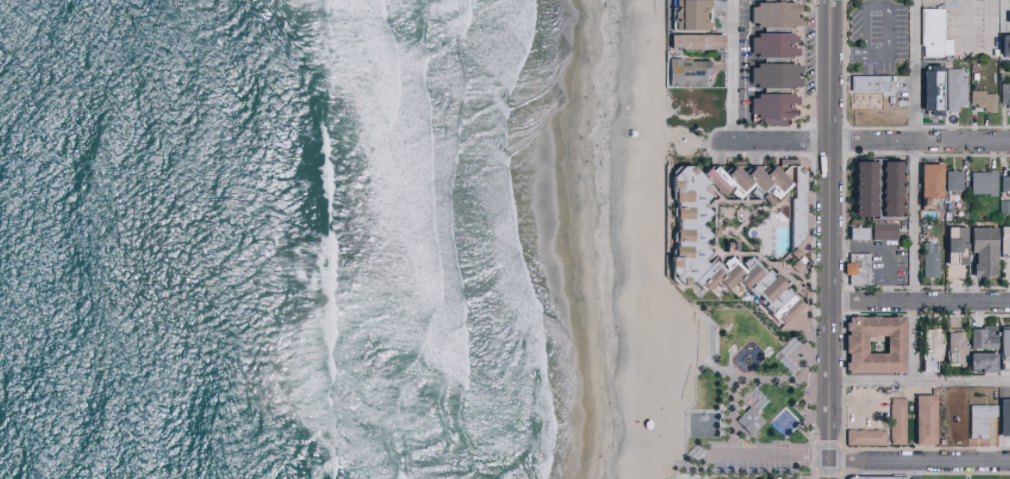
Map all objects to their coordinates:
road: (887, 8)
building: (769, 13)
building: (686, 14)
building: (1006, 17)
road: (964, 27)
road: (987, 27)
building: (930, 34)
parking lot: (878, 36)
building: (690, 40)
building: (768, 44)
building: (1002, 44)
road: (844, 58)
building: (684, 71)
road: (729, 71)
road: (912, 71)
building: (770, 74)
building: (865, 83)
building: (951, 88)
building: (1003, 95)
building: (930, 97)
building: (979, 99)
building: (768, 104)
road: (863, 142)
building: (748, 176)
building: (769, 177)
building: (718, 179)
building: (950, 179)
building: (925, 180)
building: (1003, 181)
building: (979, 182)
building: (858, 187)
building: (886, 187)
building: (789, 201)
road: (913, 222)
building: (880, 231)
building: (854, 232)
road: (827, 239)
building: (1002, 240)
building: (697, 241)
building: (951, 242)
building: (978, 250)
building: (926, 259)
building: (853, 268)
building: (763, 288)
road: (918, 302)
building: (977, 337)
building: (1001, 341)
building: (870, 343)
building: (925, 343)
building: (1009, 343)
building: (950, 345)
building: (977, 362)
road: (722, 371)
road: (743, 378)
road: (919, 378)
park: (749, 398)
building: (1002, 417)
building: (920, 419)
building: (976, 419)
building: (893, 420)
building: (749, 422)
park: (702, 425)
building: (861, 436)
road: (861, 459)
parking lot: (758, 461)
road: (698, 469)
building: (869, 477)
building: (773, 478)

